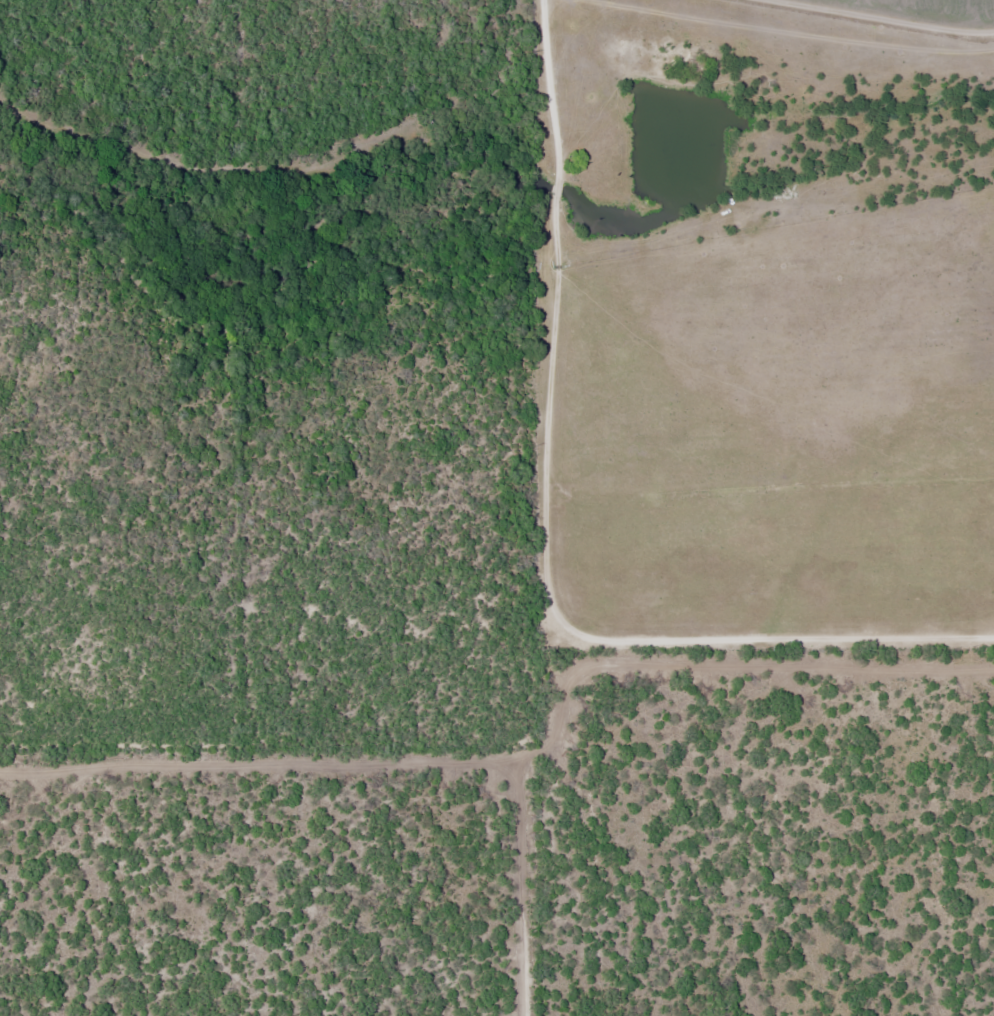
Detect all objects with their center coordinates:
road: (546, 530)

